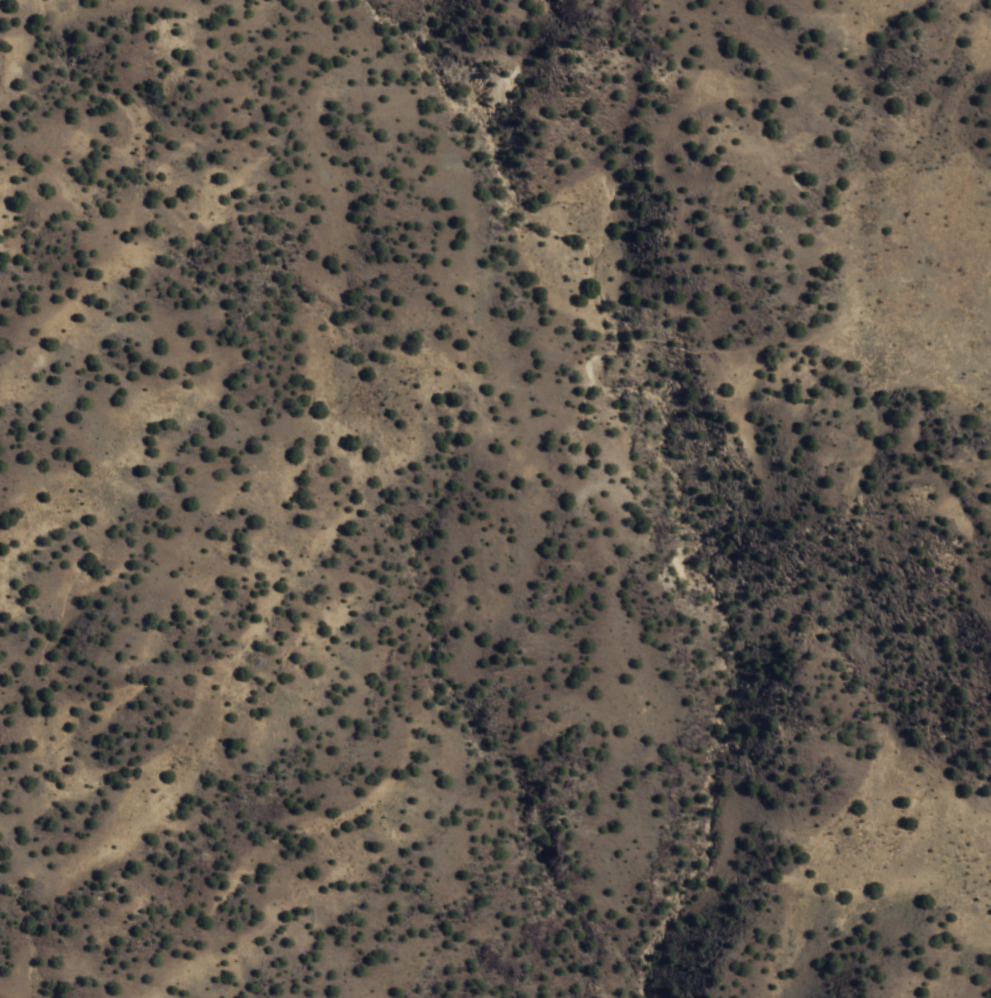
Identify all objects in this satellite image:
road: (389, 500)

